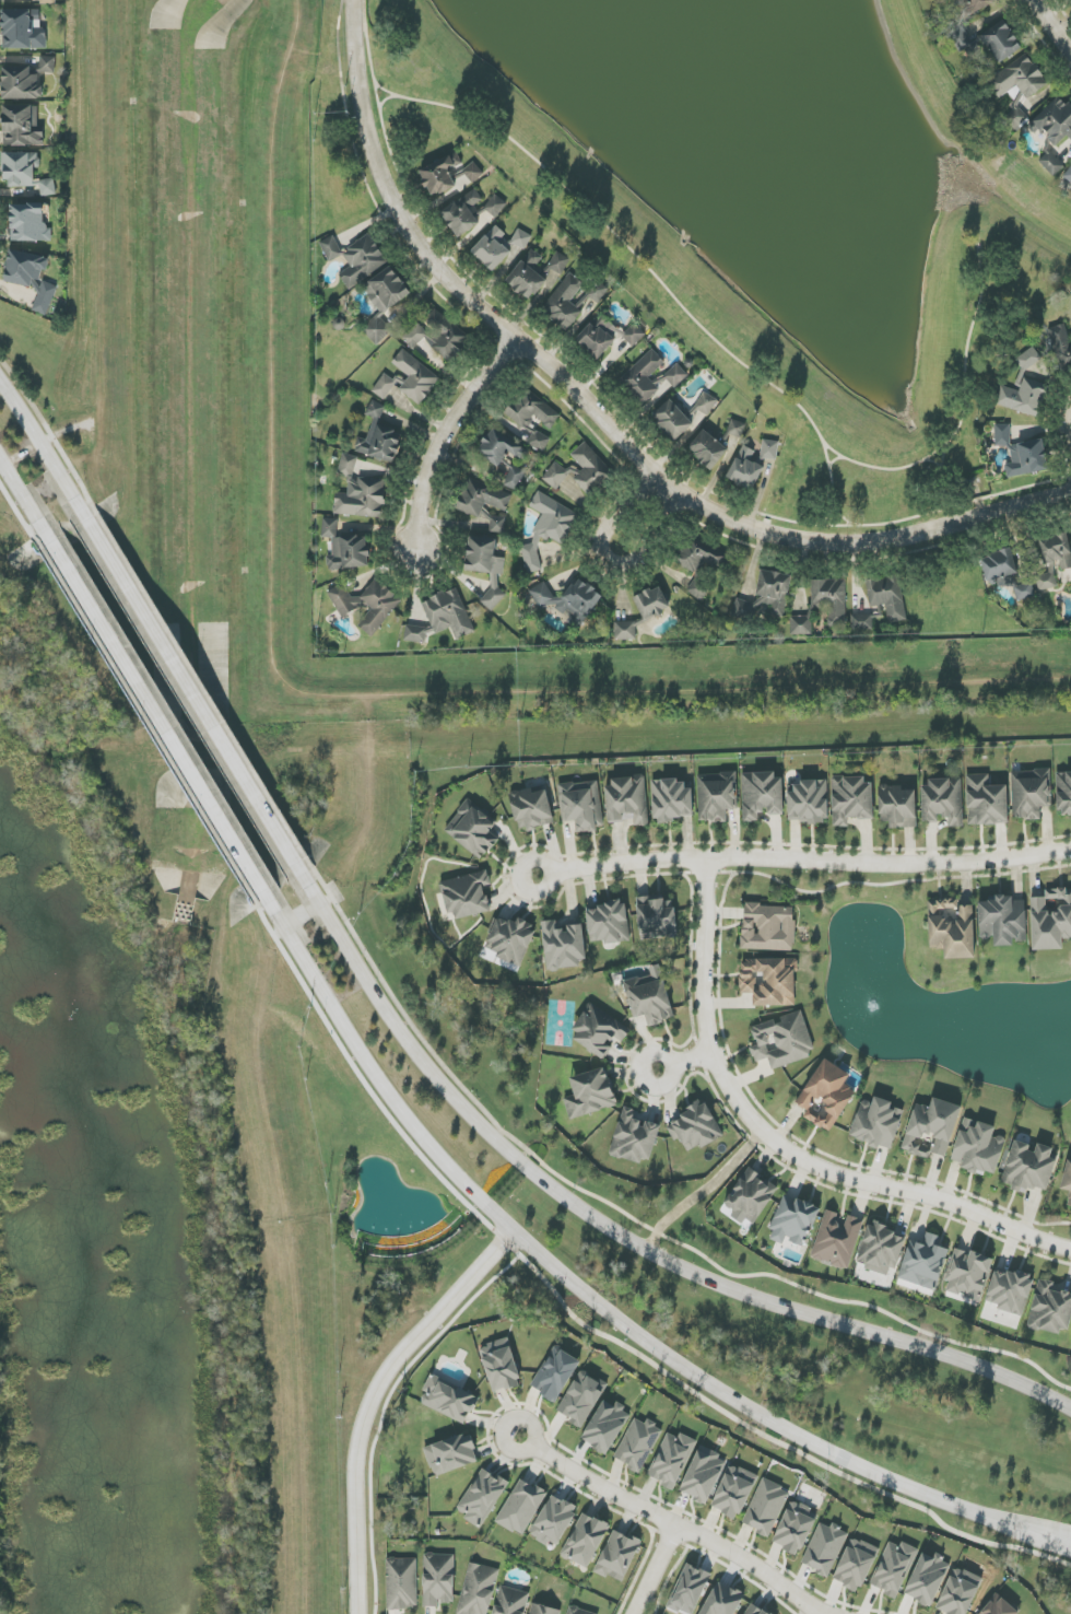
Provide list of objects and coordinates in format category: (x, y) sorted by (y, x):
building: (48, 1)
building: (974, 5)
road: (1054, 26)
building: (22, 30)
building: (1001, 42)
building: (26, 79)
building: (1019, 86)
road: (387, 98)
building: (1054, 121)
building: (21, 126)
building: (1050, 163)
building: (21, 168)
building: (1068, 175)
building: (471, 211)
building: (28, 223)
building: (499, 246)
building: (355, 258)
building: (534, 274)
building: (31, 278)
building: (596, 291)
building: (384, 301)
building: (565, 302)
road: (499, 314)
building: (438, 336)
building: (607, 337)
road: (537, 342)
building: (1062, 346)
road: (738, 359)
road: (565, 367)
building: (408, 378)
building: (651, 378)
building: (1023, 397)
building: (706, 403)
road: (615, 407)
building: (375, 410)
building: (549, 420)
road: (604, 420)
building: (672, 420)
building: (737, 429)
road: (36, 432)
road: (450, 436)
building: (380, 445)
building: (499, 447)
building: (707, 449)
building: (769, 451)
building: (1022, 454)
road: (836, 459)
building: (745, 468)
building: (580, 470)
building: (513, 477)
road: (832, 484)
road: (760, 492)
road: (23, 493)
building: (360, 493)
road: (979, 498)
building: (484, 502)
road: (726, 507)
road: (841, 514)
building: (546, 528)
building: (345, 547)
building: (1056, 550)
building: (699, 554)
road: (610, 557)
building: (486, 565)
building: (1005, 573)
building: (1047, 580)
building: (698, 589)
building: (766, 595)
building: (887, 597)
building: (568, 599)
building: (831, 599)
building: (365, 603)
building: (652, 603)
building: (442, 617)
building: (863, 622)
building: (801, 625)
building: (625, 630)
road: (186, 683)
road: (156, 715)
building: (1063, 792)
building: (1031, 793)
building: (761, 795)
building: (716, 796)
building: (672, 799)
building: (627, 800)
building: (851, 800)
building: (986, 800)
building: (942, 802)
building: (808, 803)
building: (582, 805)
building: (898, 806)
building: (532, 809)
building: (473, 829)
road: (801, 859)
building: (467, 894)
building: (656, 917)
building: (1051, 920)
building: (1002, 921)
building: (608, 923)
building: (768, 927)
building: (509, 939)
building: (564, 946)
building: (769, 981)
building: (650, 997)
fountain: (869, 1005)
building: (599, 1031)
building: (782, 1040)
road: (680, 1061)
building: (590, 1093)
building: (826, 1096)
building: (876, 1123)
building: (695, 1127)
building: (931, 1128)
building: (635, 1137)
road: (777, 1145)
building: (978, 1148)
building: (1029, 1167)
building: (1068, 1181)
building: (750, 1197)
building: (793, 1220)
road: (620, 1235)
building: (836, 1240)
building: (880, 1249)
building: (923, 1262)
building: (967, 1274)
building: (1009, 1290)
road: (584, 1294)
building: (1050, 1308)
road: (588, 1328)
building: (499, 1366)
building: (555, 1375)
road: (376, 1399)
building: (581, 1399)
building: (448, 1400)
road: (385, 1410)
building: (605, 1427)
building: (638, 1445)
building: (451, 1454)
building: (671, 1460)
building: (703, 1475)
building: (734, 1492)
building: (482, 1497)
building: (520, 1507)
building: (766, 1508)
road: (671, 1518)
building: (554, 1521)
building: (795, 1528)
road: (1051, 1537)
building: (586, 1540)
building: (824, 1548)
building: (617, 1556)
building: (856, 1565)
building: (893, 1567)
road: (659, 1568)
building: (438, 1579)
building: (927, 1579)
building: (402, 1583)
building: (478, 1589)
building: (688, 1590)
building: (958, 1592)
building: (510, 1601)
building: (722, 1601)
building: (998, 1606)
building: (543, 1610)
building: (754, 1610)
building: (578, 1611)

